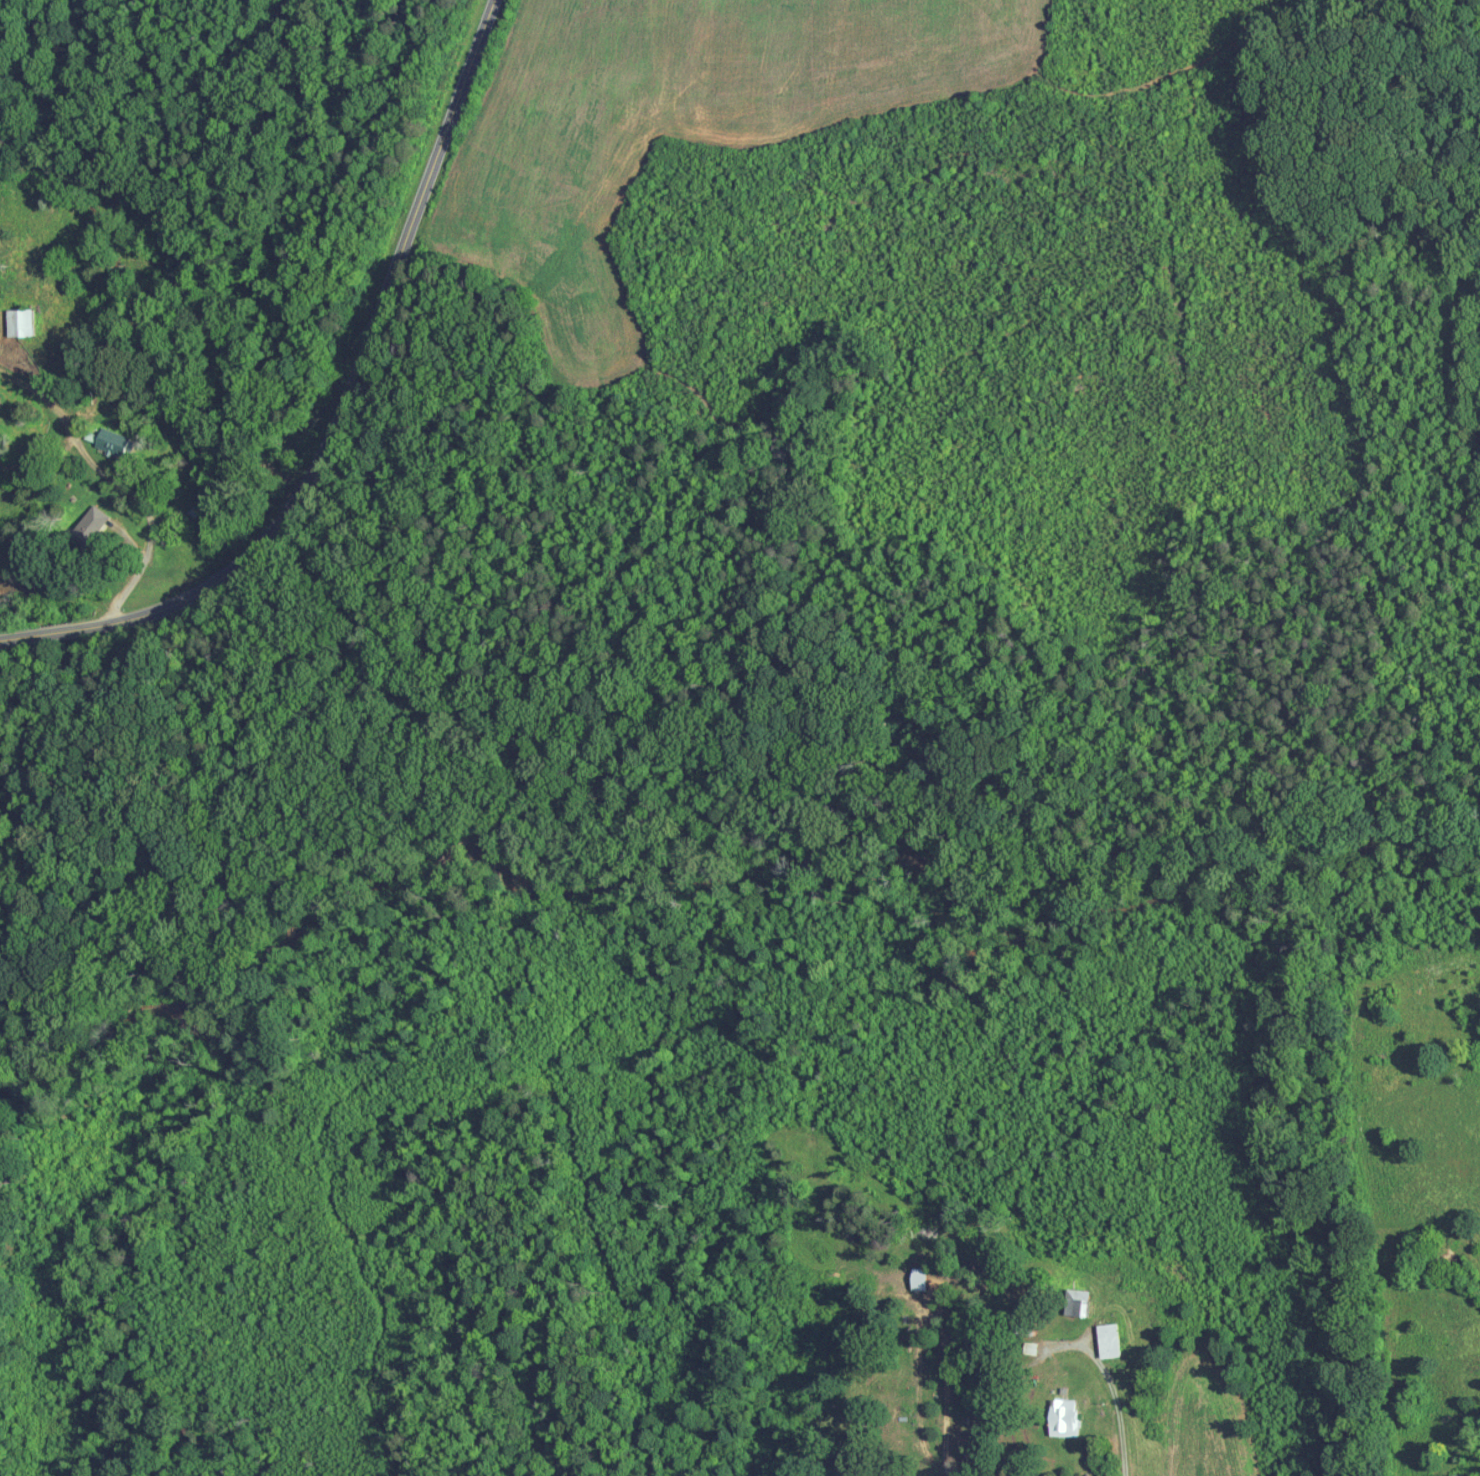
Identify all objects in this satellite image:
building: (25, 323)
road: (357, 370)
building: (117, 443)
road: (112, 483)
road: (45, 633)
building: (922, 1280)
building: (1080, 1303)
building: (1111, 1342)
road: (1108, 1376)
building: (1066, 1419)

